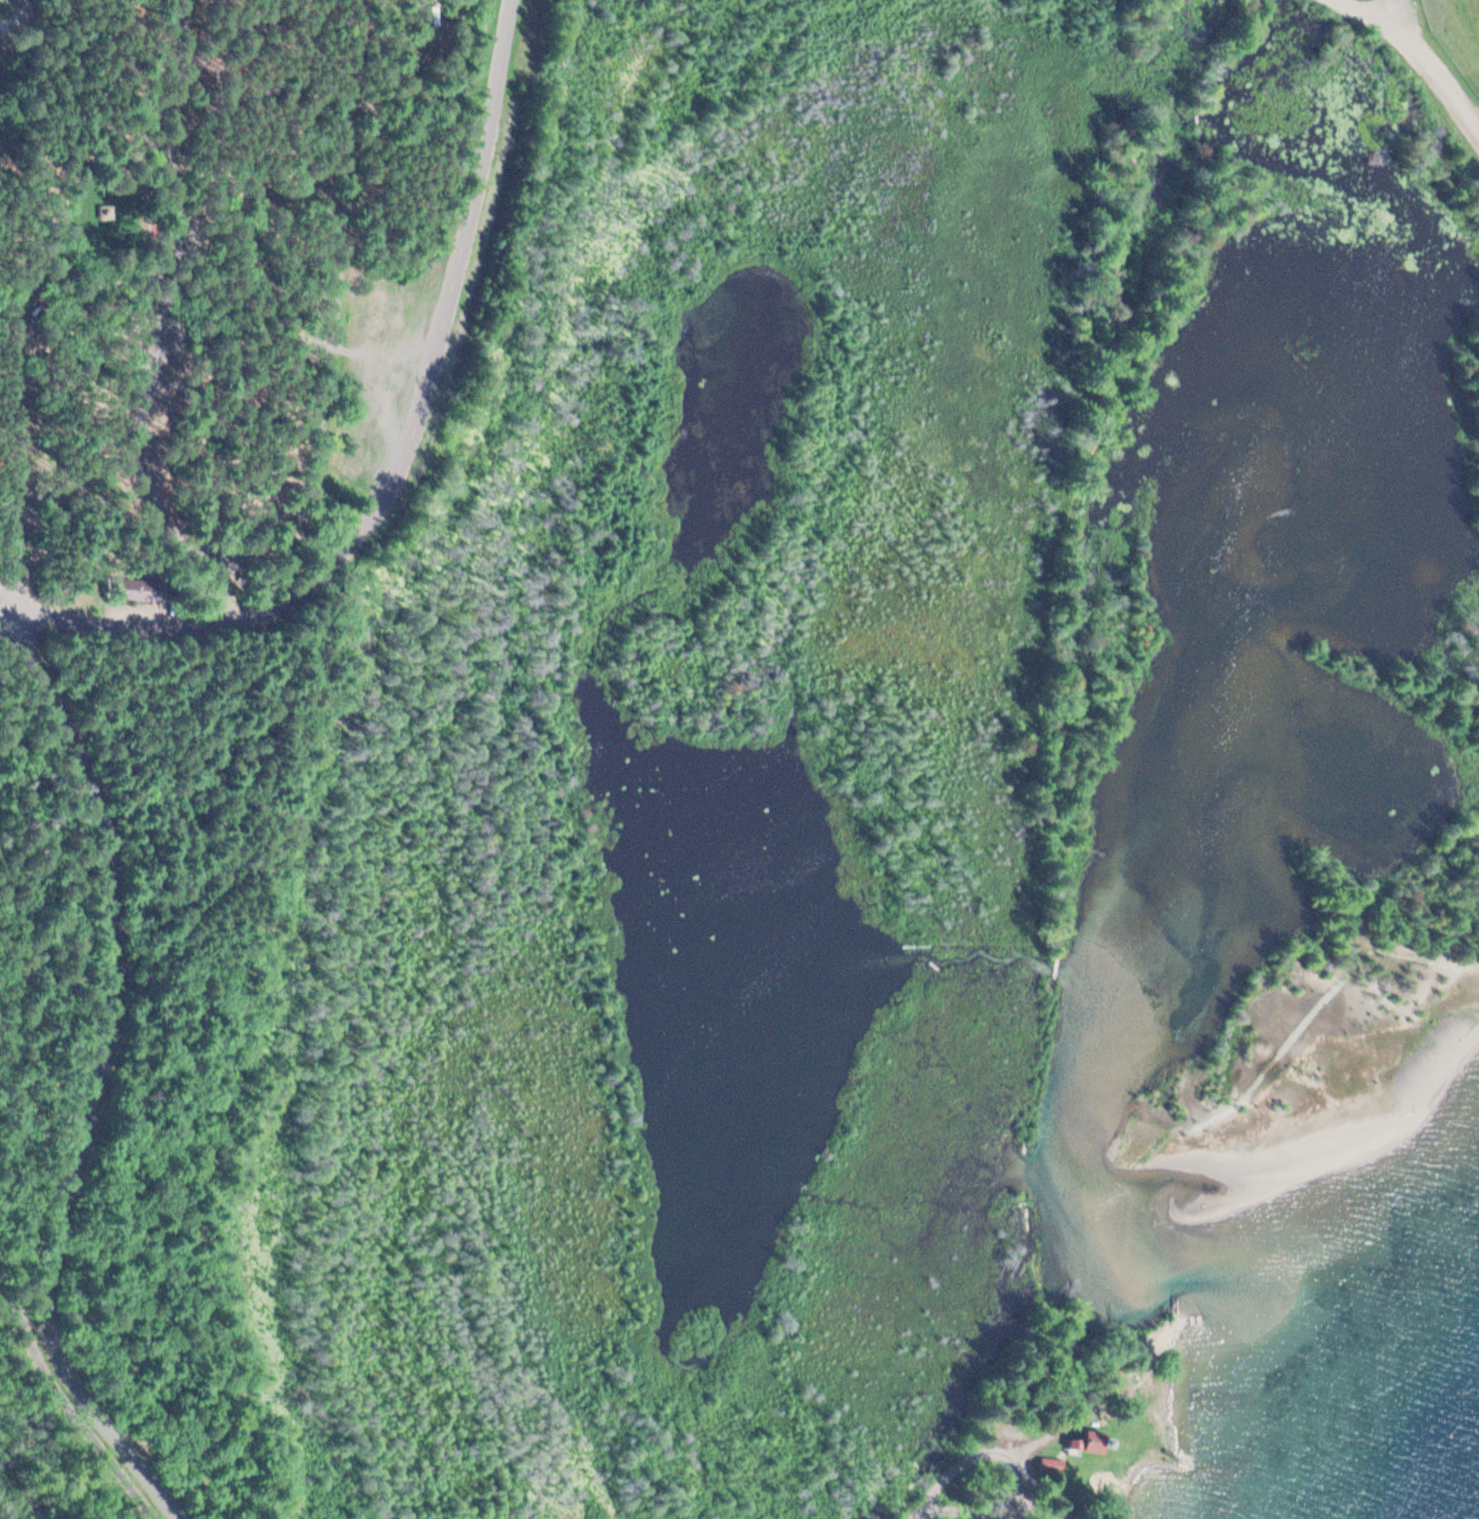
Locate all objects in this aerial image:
road: (1396, 16)
road: (17, 17)
park: (24, 17)
road: (1419, 54)
road: (401, 455)
road: (97, 1073)
road: (40, 1121)
road: (24, 1318)
lighthouse: (1102, 1434)
building: (1050, 1465)
road: (918, 1507)

